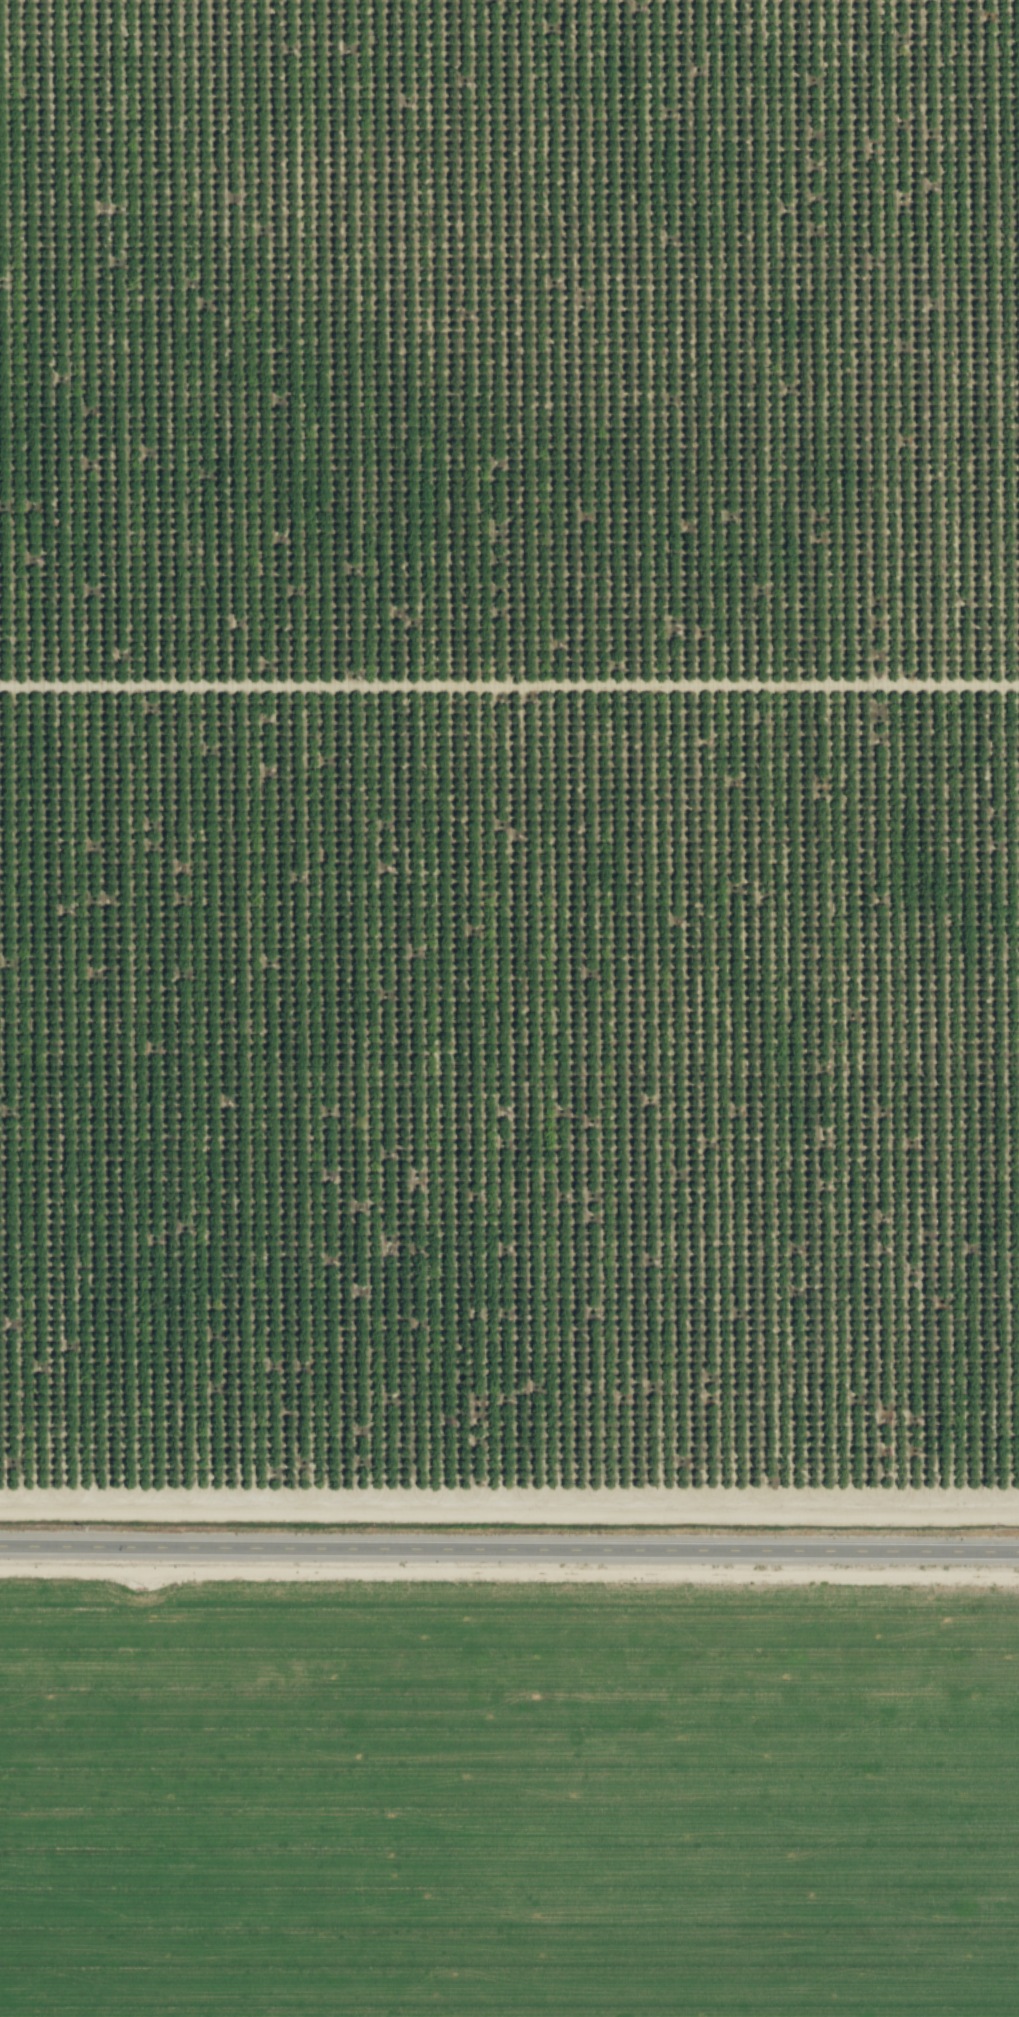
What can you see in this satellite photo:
road: (509, 1551)

